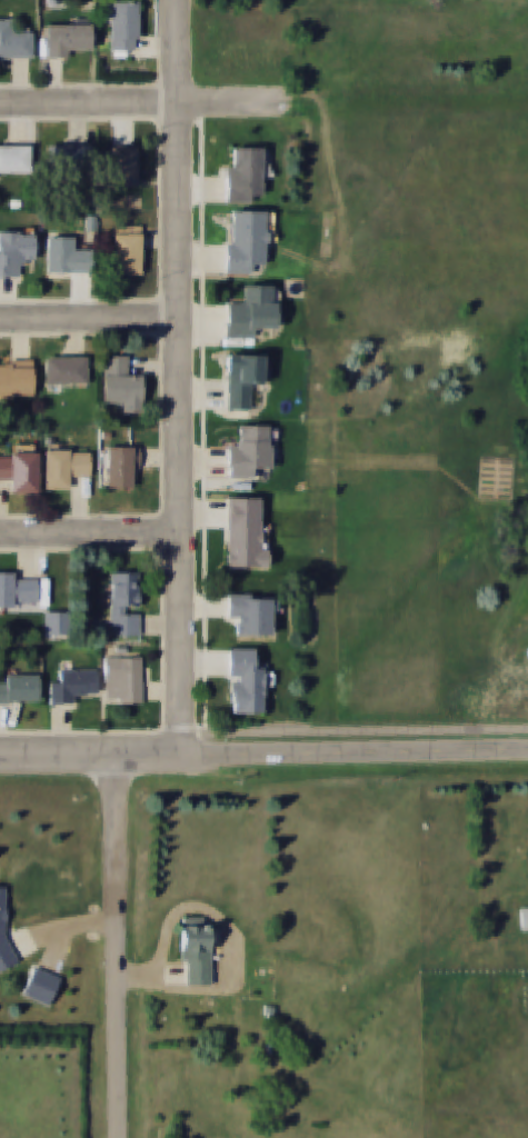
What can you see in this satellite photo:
building: (123, 26)
building: (67, 38)
building: (13, 43)
road: (89, 102)
road: (231, 102)
building: (68, 158)
building: (14, 159)
building: (123, 167)
building: (243, 174)
building: (246, 241)
building: (128, 250)
building: (16, 252)
building: (67, 258)
building: (251, 311)
road: (90, 316)
building: (67, 372)
road: (180, 376)
building: (17, 378)
building: (242, 380)
building: (122, 386)
building: (249, 452)
building: (66, 466)
building: (121, 466)
building: (20, 472)
road: (90, 532)
building: (245, 532)
building: (18, 590)
building: (124, 603)
building: (251, 613)
building: (57, 623)
building: (123, 680)
building: (245, 682)
building: (72, 686)
building: (20, 689)
road: (355, 730)
road: (263, 752)
building: (524, 918)
building: (3, 928)
road: (117, 946)
building: (195, 951)
building: (41, 986)

